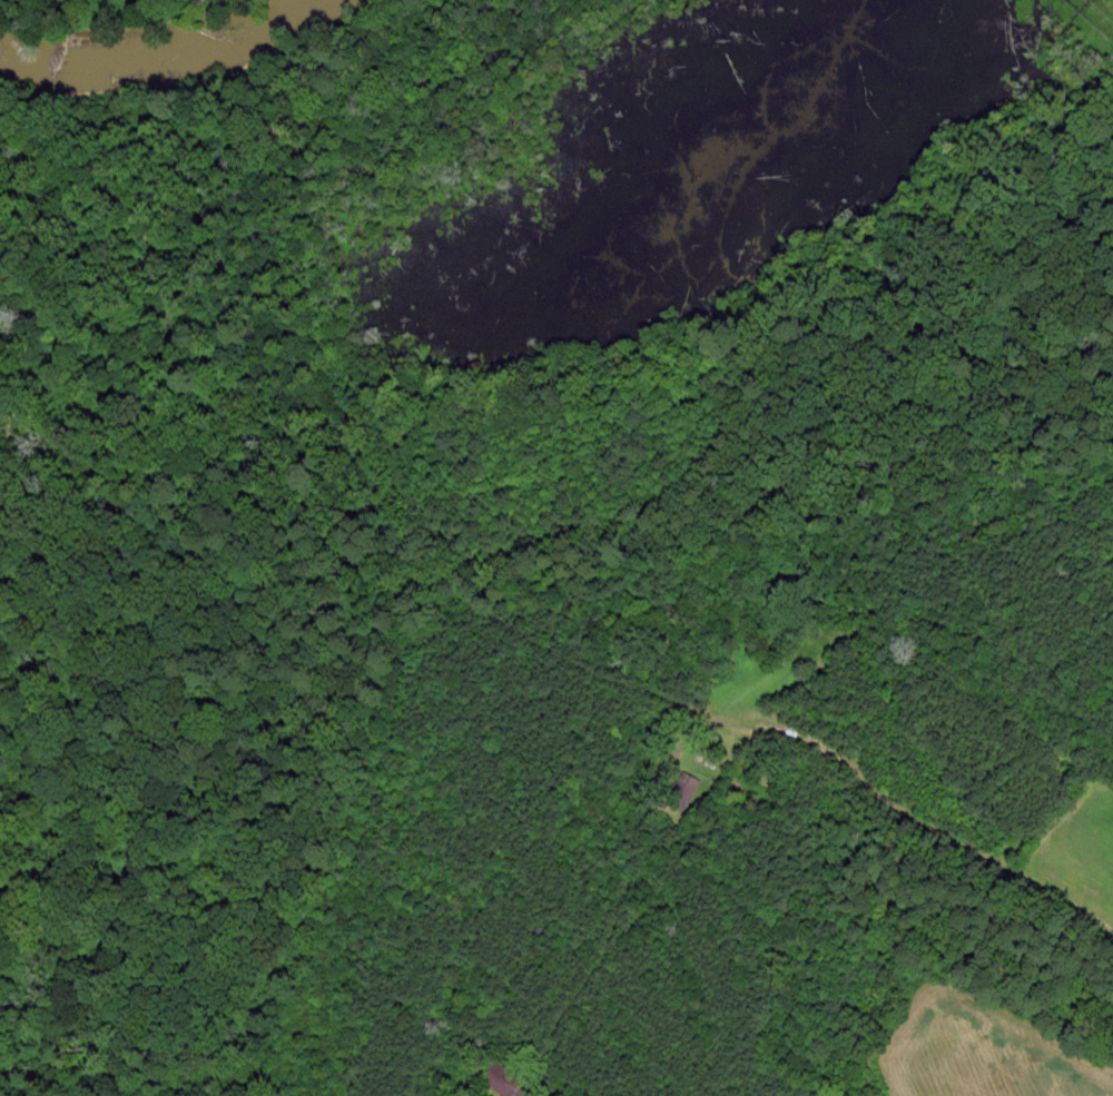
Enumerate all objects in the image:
river: (190, 55)
road: (426, 576)
road: (486, 612)
road: (529, 700)
building: (686, 788)
building: (508, 1086)

